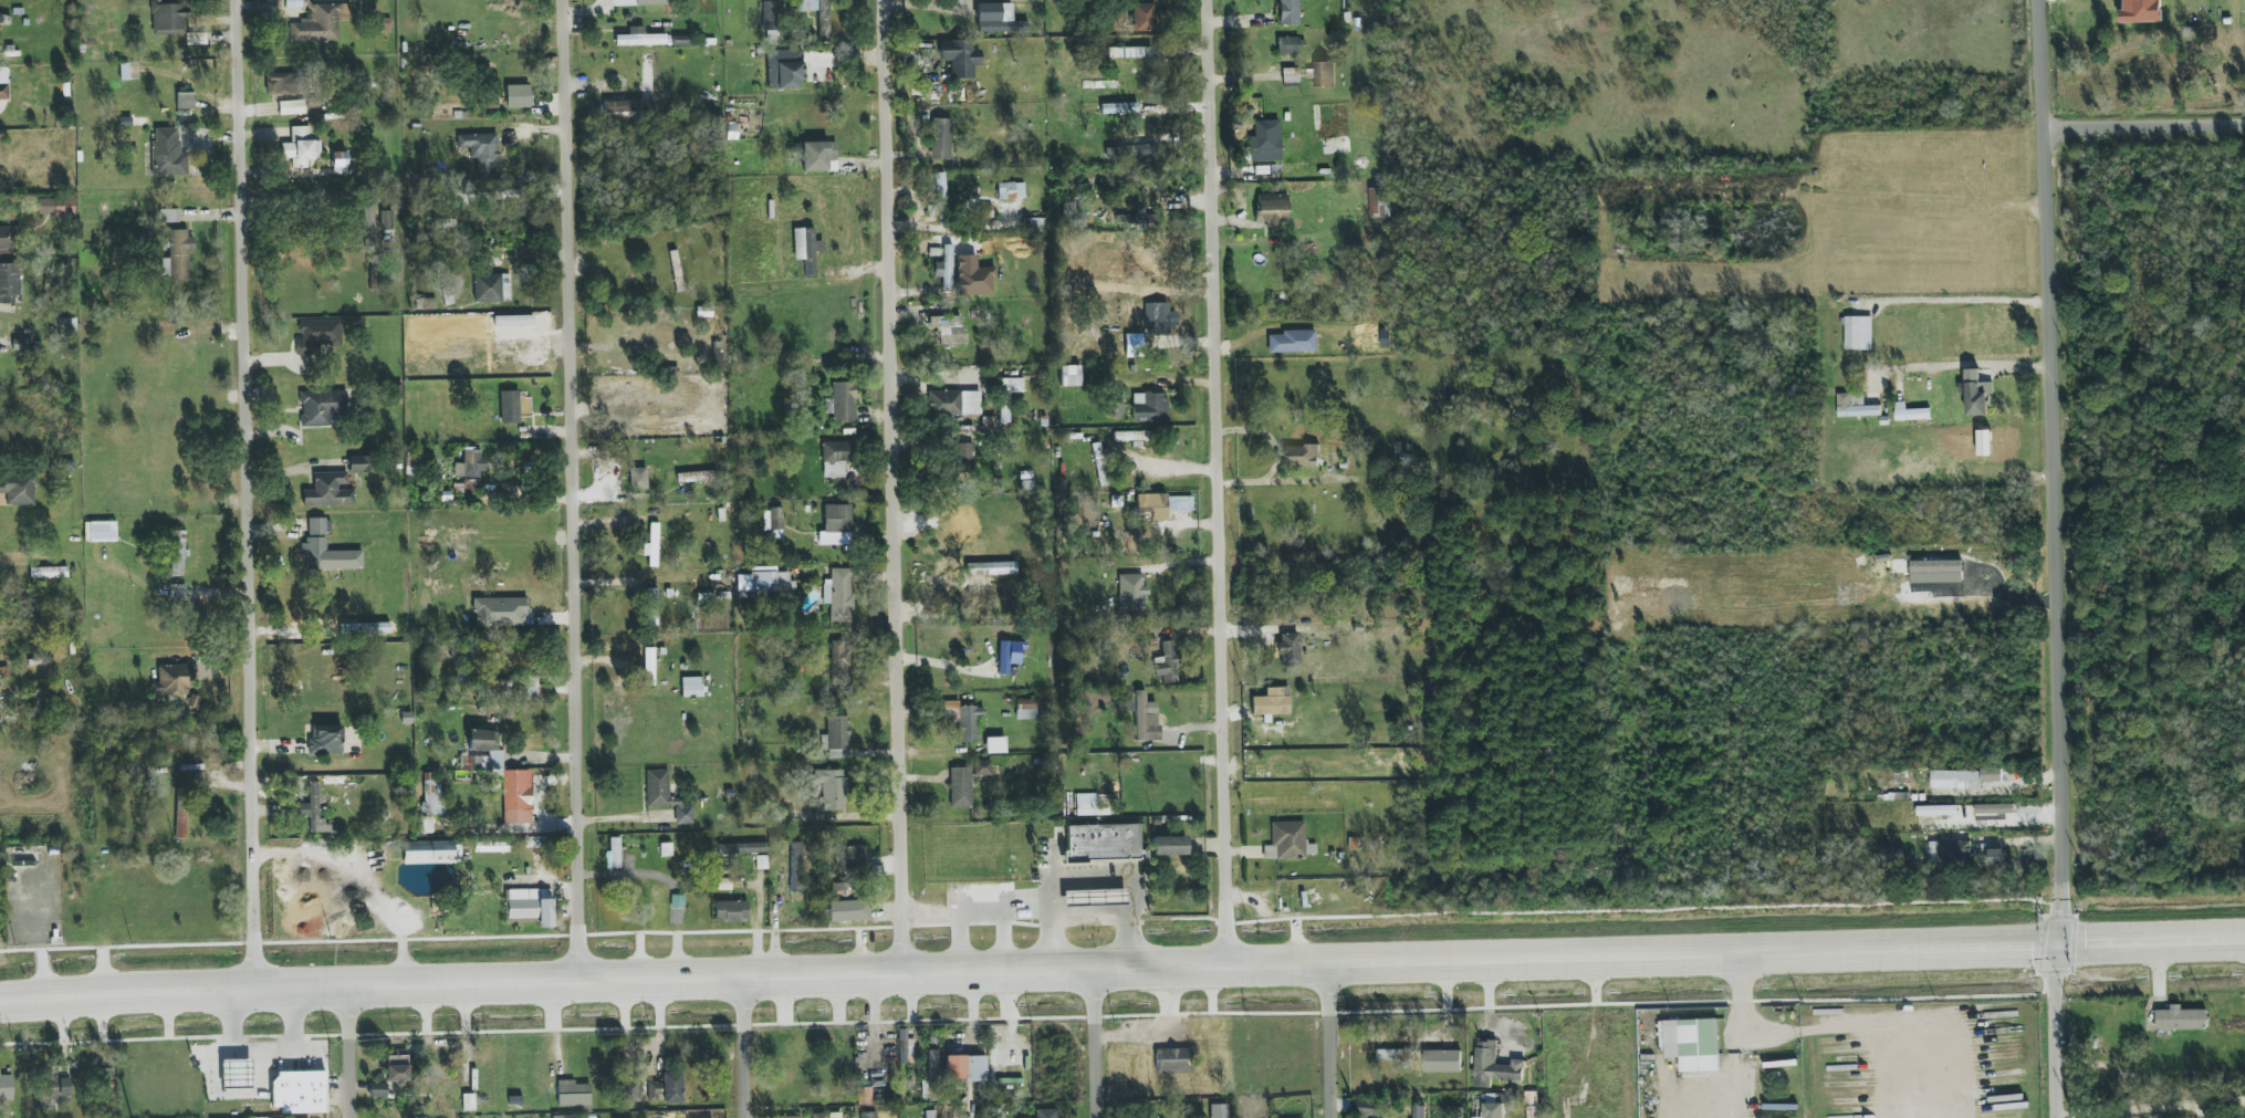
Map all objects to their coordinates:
building: (638, 2)
building: (2141, 11)
building: (1288, 12)
building: (818, 15)
building: (168, 17)
building: (1142, 17)
building: (998, 19)
building: (4, 20)
building: (771, 20)
building: (321, 23)
building: (639, 38)
building: (1287, 45)
building: (960, 58)
road: (2042, 64)
building: (1324, 74)
building: (784, 75)
building: (647, 77)
building: (282, 83)
building: (1100, 84)
building: (3, 92)
building: (518, 96)
building: (185, 101)
building: (292, 107)
road: (2145, 127)
building: (940, 138)
building: (301, 147)
building: (481, 150)
building: (1130, 150)
building: (167, 154)
building: (816, 156)
building: (340, 163)
building: (1011, 191)
building: (938, 198)
road: (294, 201)
building: (1380, 202)
building: (56, 206)
building: (1272, 210)
building: (168, 216)
building: (1138, 219)
building: (386, 220)
building: (368, 223)
building: (1037, 224)
building: (10, 238)
building: (806, 250)
building: (177, 255)
building: (942, 262)
building: (9, 283)
building: (489, 289)
road: (1969, 300)
building: (1159, 320)
building: (948, 330)
building: (1858, 333)
building: (319, 335)
building: (1291, 342)
building: (21, 345)
building: (1134, 345)
road: (1969, 362)
building: (1069, 376)
building: (1010, 388)
building: (1976, 393)
building: (844, 401)
building: (954, 403)
building: (1856, 406)
building: (322, 407)
building: (510, 407)
building: (1149, 407)
building: (1911, 412)
building: (1136, 438)
building: (963, 454)
building: (1303, 456)
building: (835, 458)
building: (358, 464)
building: (470, 464)
building: (1100, 464)
road: (1214, 471)
building: (697, 477)
building: (638, 479)
road: (899, 483)
building: (19, 488)
road: (576, 488)
building: (328, 490)
road: (254, 493)
building: (1152, 505)
building: (773, 520)
building: (837, 524)
building: (319, 526)
building: (102, 531)
road: (2059, 539)
building: (654, 543)
building: (327, 556)
building: (177, 566)
building: (48, 573)
building: (764, 582)
building: (722, 591)
building: (177, 592)
building: (1131, 592)
building: (838, 595)
building: (499, 612)
building: (1289, 649)
building: (1003, 658)
building: (839, 664)
building: (1166, 664)
building: (648, 666)
building: (174, 679)
building: (497, 685)
building: (529, 687)
building: (692, 687)
building: (1272, 702)
building: (1026, 709)
building: (1146, 718)
building: (963, 719)
building: (837, 736)
building: (326, 739)
building: (995, 745)
building: (494, 753)
building: (982, 767)
building: (1963, 779)
building: (960, 787)
building: (831, 790)
building: (431, 794)
building: (516, 796)
building: (666, 796)
building: (1085, 804)
building: (313, 809)
building: (181, 816)
road: (2016, 839)
building: (1286, 840)
building: (1103, 843)
building: (1169, 846)
building: (742, 848)
building: (1950, 851)
building: (428, 853)
building: (613, 854)
building: (1995, 856)
building: (850, 857)
building: (761, 863)
road: (1053, 863)
building: (796, 867)
road: (362, 878)
road: (1093, 879)
road: (1246, 898)
building: (677, 901)
building: (531, 905)
building: (846, 910)
building: (731, 911)
road: (1002, 911)
road: (1115, 916)
road: (758, 937)
road: (1003, 939)
road: (960, 940)
road: (1224, 952)
road: (1460, 961)
road: (654, 976)
road: (315, 986)
building: (2181, 1018)
road: (1866, 1028)
road: (2055, 1033)
road: (1737, 1036)
road: (1328, 1039)
road: (1096, 1041)
building: (1693, 1044)
road: (743, 1046)
building: (904, 1046)
road: (348, 1052)
road: (262, 1054)
building: (1392, 1054)
building: (1442, 1060)
building: (1173, 1062)
building: (1494, 1066)
building: (965, 1068)
building: (397, 1069)
building: (237, 1074)
building: (6, 1086)
building: (666, 1088)
building: (54, 1090)
building: (377, 1090)
building: (300, 1091)
road: (227, 1093)
building: (573, 1094)
building: (863, 1096)
building: (1512, 1100)
road: (2150, 1107)
building: (1366, 1108)
building: (1493, 1109)
building: (1218, 1110)
building: (1419, 1111)
building: (1046, 1112)
building: (565, 1117)
building: (800, 1117)
building: (821, 1117)
building: (875, 1117)
building: (930, 1117)
building: (1225, 1117)
building: (1423, 1117)
building: (1496, 1117)

